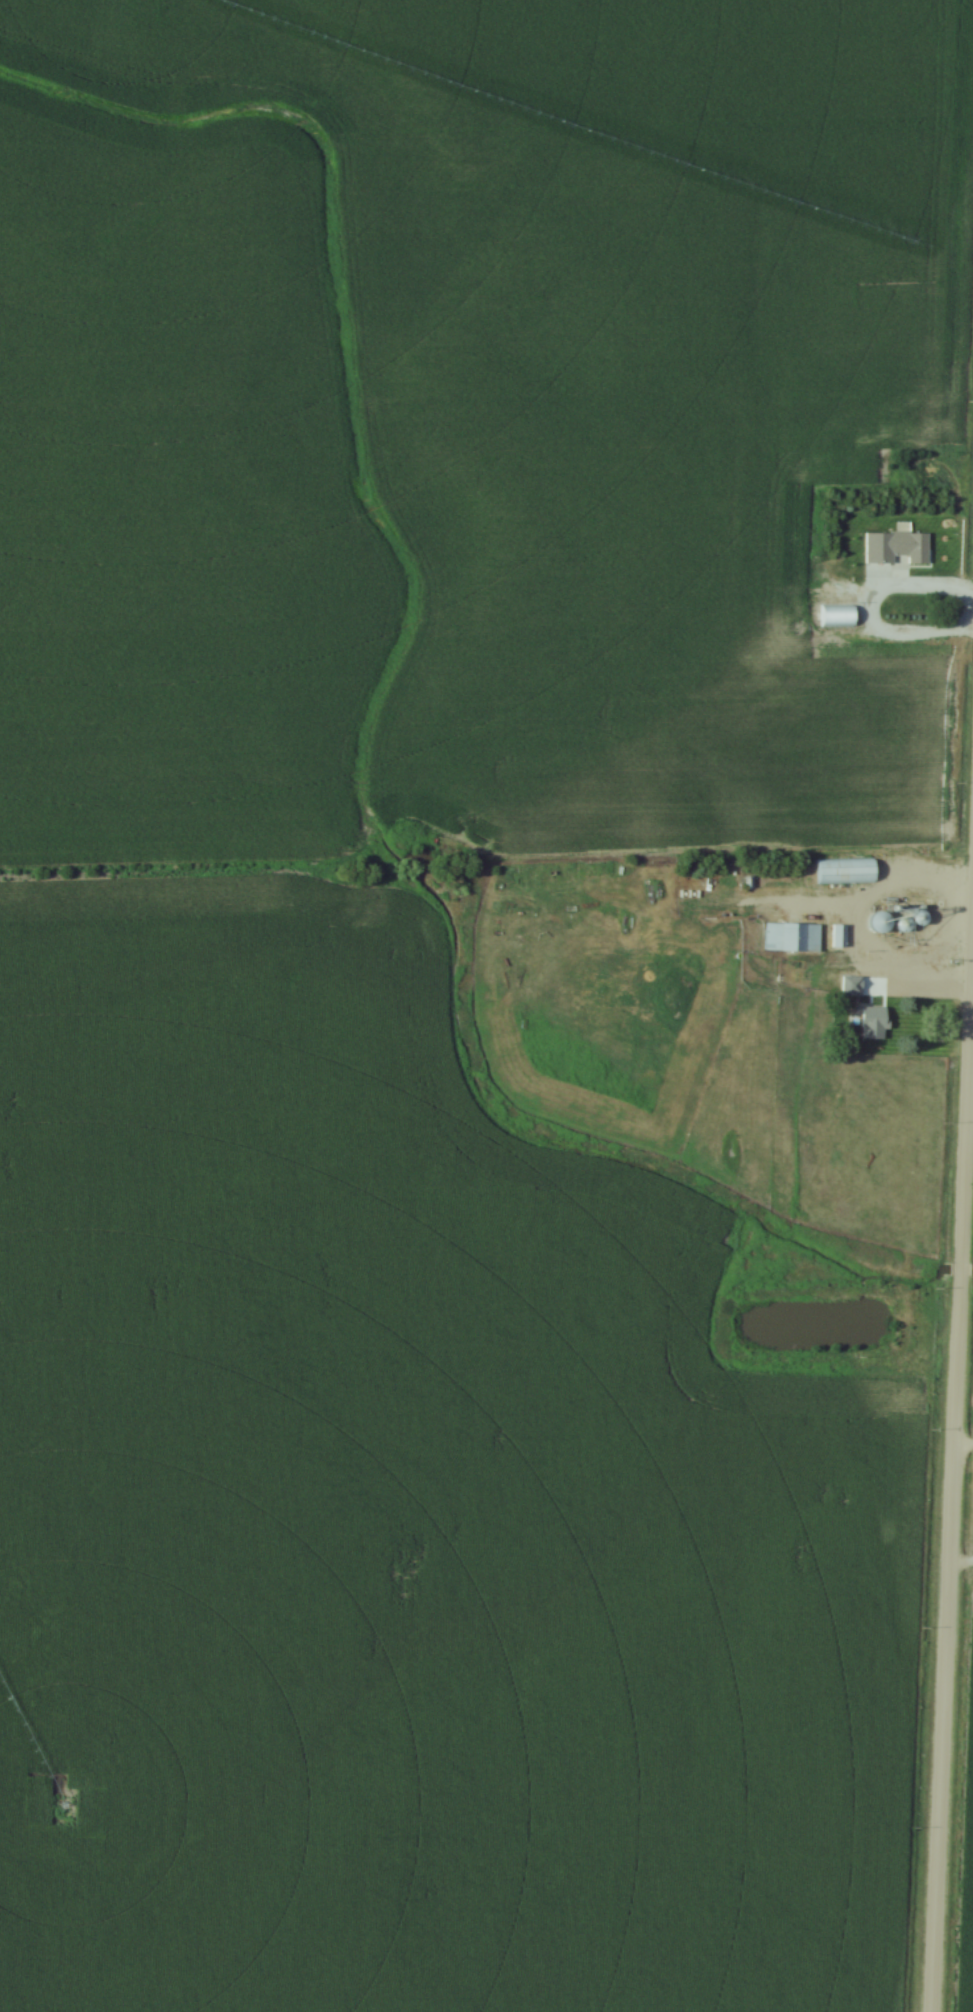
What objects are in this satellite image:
building: (912, 544)
building: (839, 616)
building: (848, 871)
building: (884, 922)
building: (840, 936)
building: (794, 937)
building: (853, 985)
building: (876, 1023)
road: (948, 1435)
road: (960, 1450)

